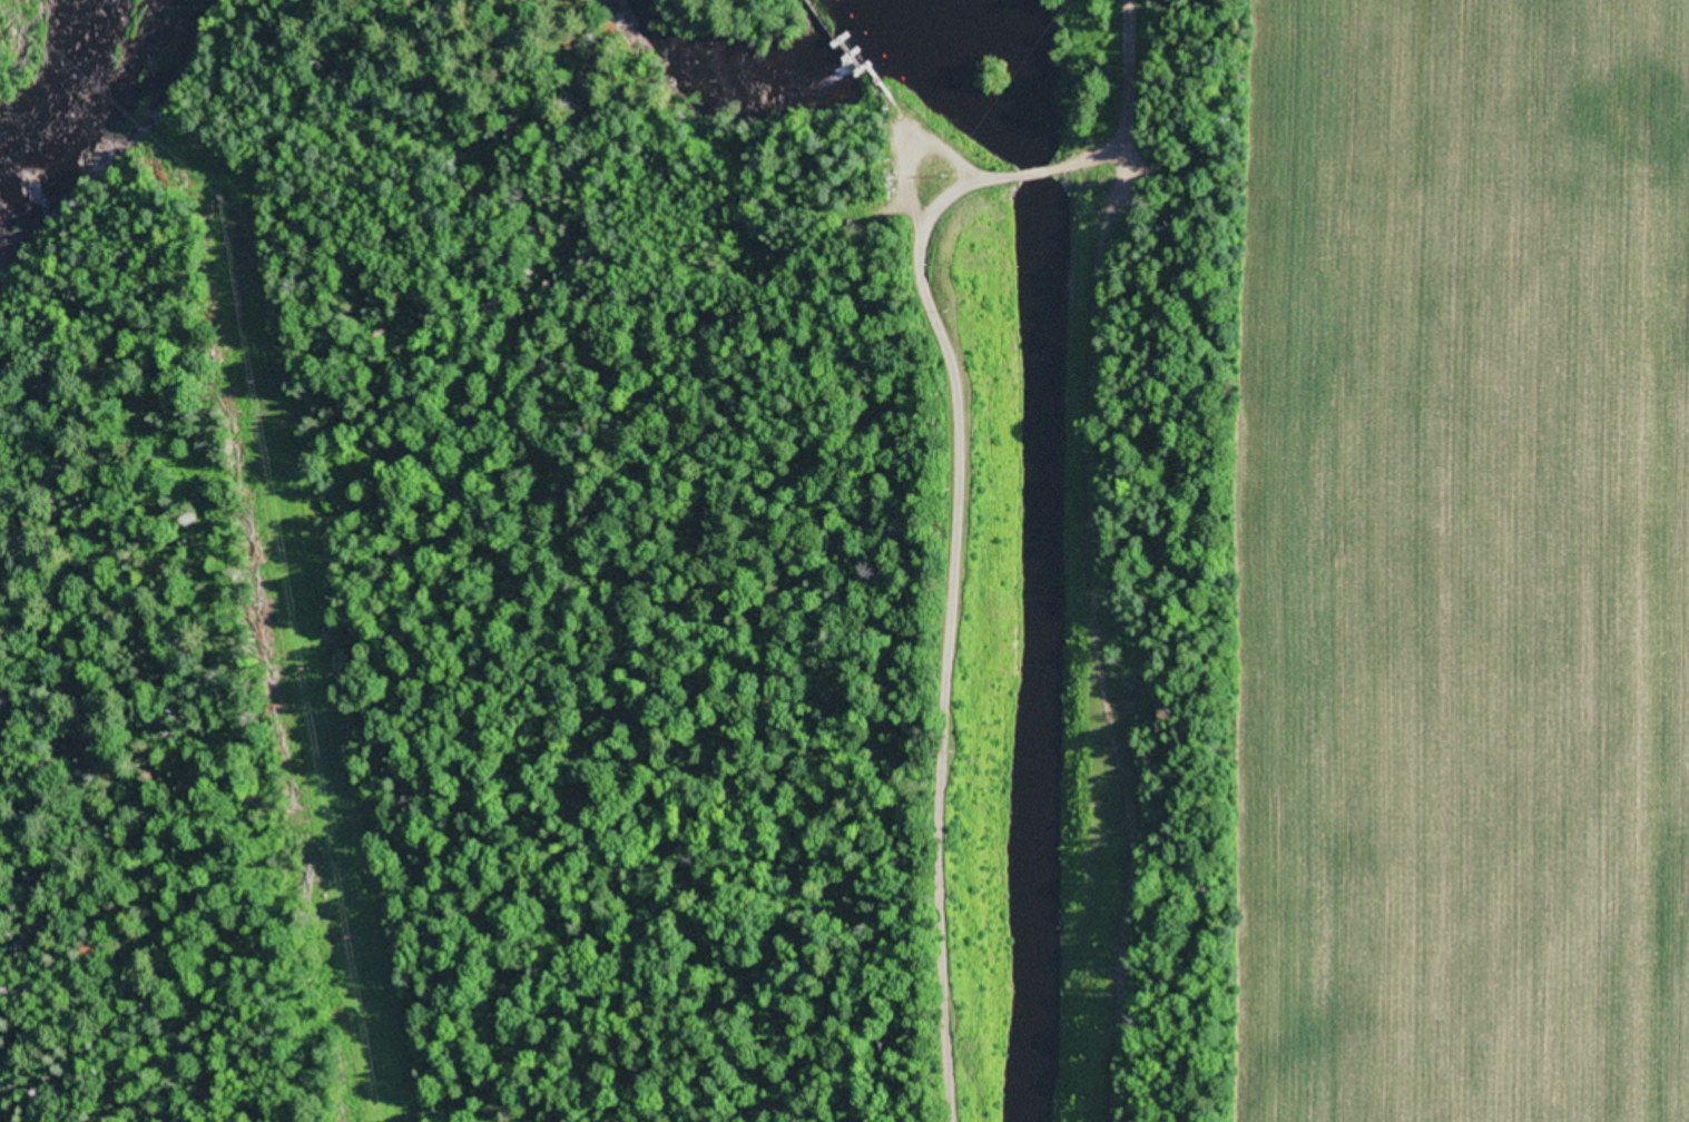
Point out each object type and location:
dam: (846, 47)
river: (68, 93)
road: (909, 149)
road: (1094, 157)
road: (1024, 173)
road: (1133, 560)
road: (950, 633)

